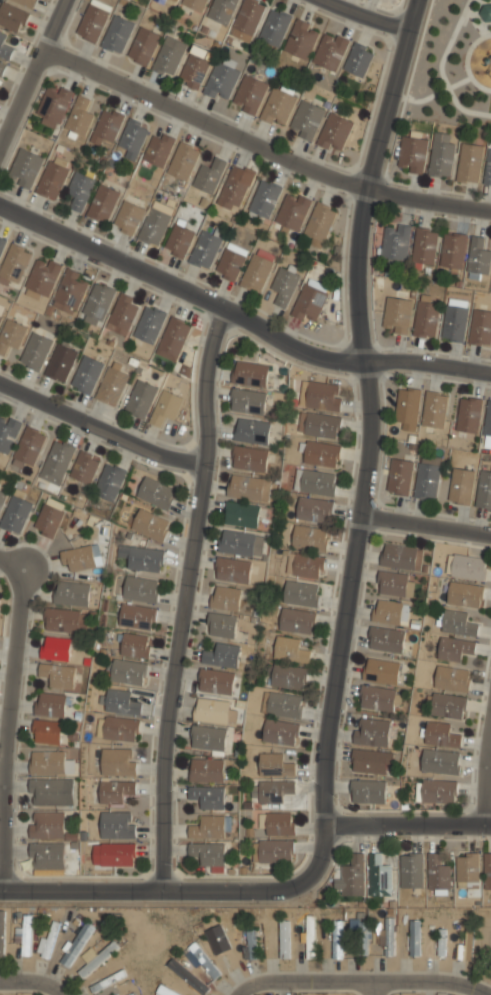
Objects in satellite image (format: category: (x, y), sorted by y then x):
building: (177, 0)
building: (161, 1)
building: (172, 1)
building: (25, 3)
building: (195, 4)
building: (221, 10)
building: (486, 12)
road: (365, 15)
building: (12, 17)
building: (94, 19)
building: (248, 20)
building: (275, 28)
building: (117, 34)
building: (301, 40)
building: (143, 46)
building: (4, 48)
building: (331, 50)
building: (169, 57)
building: (359, 59)
park: (453, 65)
building: (1, 68)
building: (195, 71)
road: (34, 75)
building: (221, 82)
building: (250, 96)
building: (54, 105)
building: (278, 108)
building: (79, 117)
building: (306, 121)
building: (107, 127)
building: (335, 133)
building: (133, 137)
road: (263, 147)
building: (158, 149)
building: (412, 154)
building: (441, 159)
building: (183, 160)
building: (469, 163)
building: (25, 168)
building: (488, 169)
building: (208, 176)
building: (52, 180)
building: (235, 188)
building: (80, 191)
building: (264, 198)
building: (103, 204)
building: (293, 211)
building: (128, 218)
building: (320, 223)
building: (154, 226)
building: (179, 241)
building: (396, 243)
building: (2, 245)
building: (425, 246)
building: (205, 250)
building: (453, 251)
building: (478, 258)
building: (231, 262)
building: (14, 264)
building: (257, 269)
building: (43, 277)
building: (285, 283)
building: (69, 292)
building: (309, 303)
building: (98, 304)
building: (2, 313)
building: (397, 315)
building: (427, 315)
building: (122, 316)
road: (238, 317)
building: (455, 319)
building: (149, 326)
building: (481, 327)
building: (11, 337)
building: (173, 339)
building: (36, 352)
building: (61, 364)
building: (86, 375)
building: (250, 375)
building: (112, 385)
building: (324, 396)
building: (141, 400)
building: (248, 402)
building: (165, 408)
building: (407, 408)
building: (435, 409)
road: (369, 410)
building: (469, 415)
building: (488, 419)
building: (320, 425)
road: (100, 429)
building: (252, 432)
building: (7, 435)
building: (29, 448)
building: (321, 454)
building: (250, 459)
building: (57, 463)
building: (84, 469)
building: (400, 476)
building: (427, 477)
building: (315, 481)
building: (109, 483)
building: (461, 486)
building: (248, 488)
building: (484, 489)
building: (156, 493)
building: (2, 497)
building: (315, 509)
building: (15, 515)
building: (242, 515)
building: (48, 520)
road: (425, 522)
building: (150, 526)
building: (310, 536)
building: (241, 544)
building: (81, 557)
building: (402, 557)
building: (142, 558)
road: (12, 563)
building: (305, 564)
building: (467, 567)
building: (233, 570)
building: (395, 584)
building: (140, 589)
building: (0, 592)
building: (72, 593)
building: (301, 593)
building: (465, 595)
road: (188, 596)
building: (229, 598)
building: (390, 611)
building: (137, 616)
building: (66, 620)
building: (297, 620)
building: (456, 623)
building: (221, 625)
building: (386, 639)
building: (135, 645)
building: (56, 647)
building: (454, 649)
building: (290, 650)
building: (221, 655)
building: (126, 671)
building: (382, 671)
building: (60, 675)
building: (288, 676)
building: (452, 678)
building: (216, 681)
building: (380, 699)
building: (121, 701)
building: (50, 704)
building: (283, 705)
building: (448, 706)
building: (214, 711)
building: (118, 728)
road: (7, 729)
building: (46, 732)
building: (280, 732)
building: (372, 732)
building: (441, 735)
building: (209, 738)
building: (440, 761)
building: (118, 762)
building: (369, 762)
building: (50, 763)
building: (275, 766)
building: (206, 771)
road: (485, 777)
building: (115, 791)
building: (273, 791)
building: (436, 791)
building: (368, 792)
building: (46, 793)
building: (208, 797)
building: (280, 824)
building: (117, 825)
road: (408, 825)
building: (46, 826)
building: (209, 828)
building: (274, 851)
building: (208, 853)
building: (117, 855)
building: (46, 857)
building: (468, 867)
building: (487, 870)
building: (412, 871)
building: (353, 873)
building: (438, 873)
building: (379, 877)
road: (183, 887)
building: (357, 923)
building: (2, 934)
building: (25, 934)
building: (389, 937)
building: (285, 938)
building: (414, 938)
building: (311, 939)
building: (338, 939)
building: (442, 941)
building: (48, 942)
building: (76, 944)
building: (222, 944)
building: (251, 944)
building: (466, 946)
building: (98, 959)
building: (204, 960)
building: (188, 976)
building: (107, 979)
road: (31, 983)
road: (362, 984)
road: (373, 990)
building: (166, 991)
building: (127, 993)

